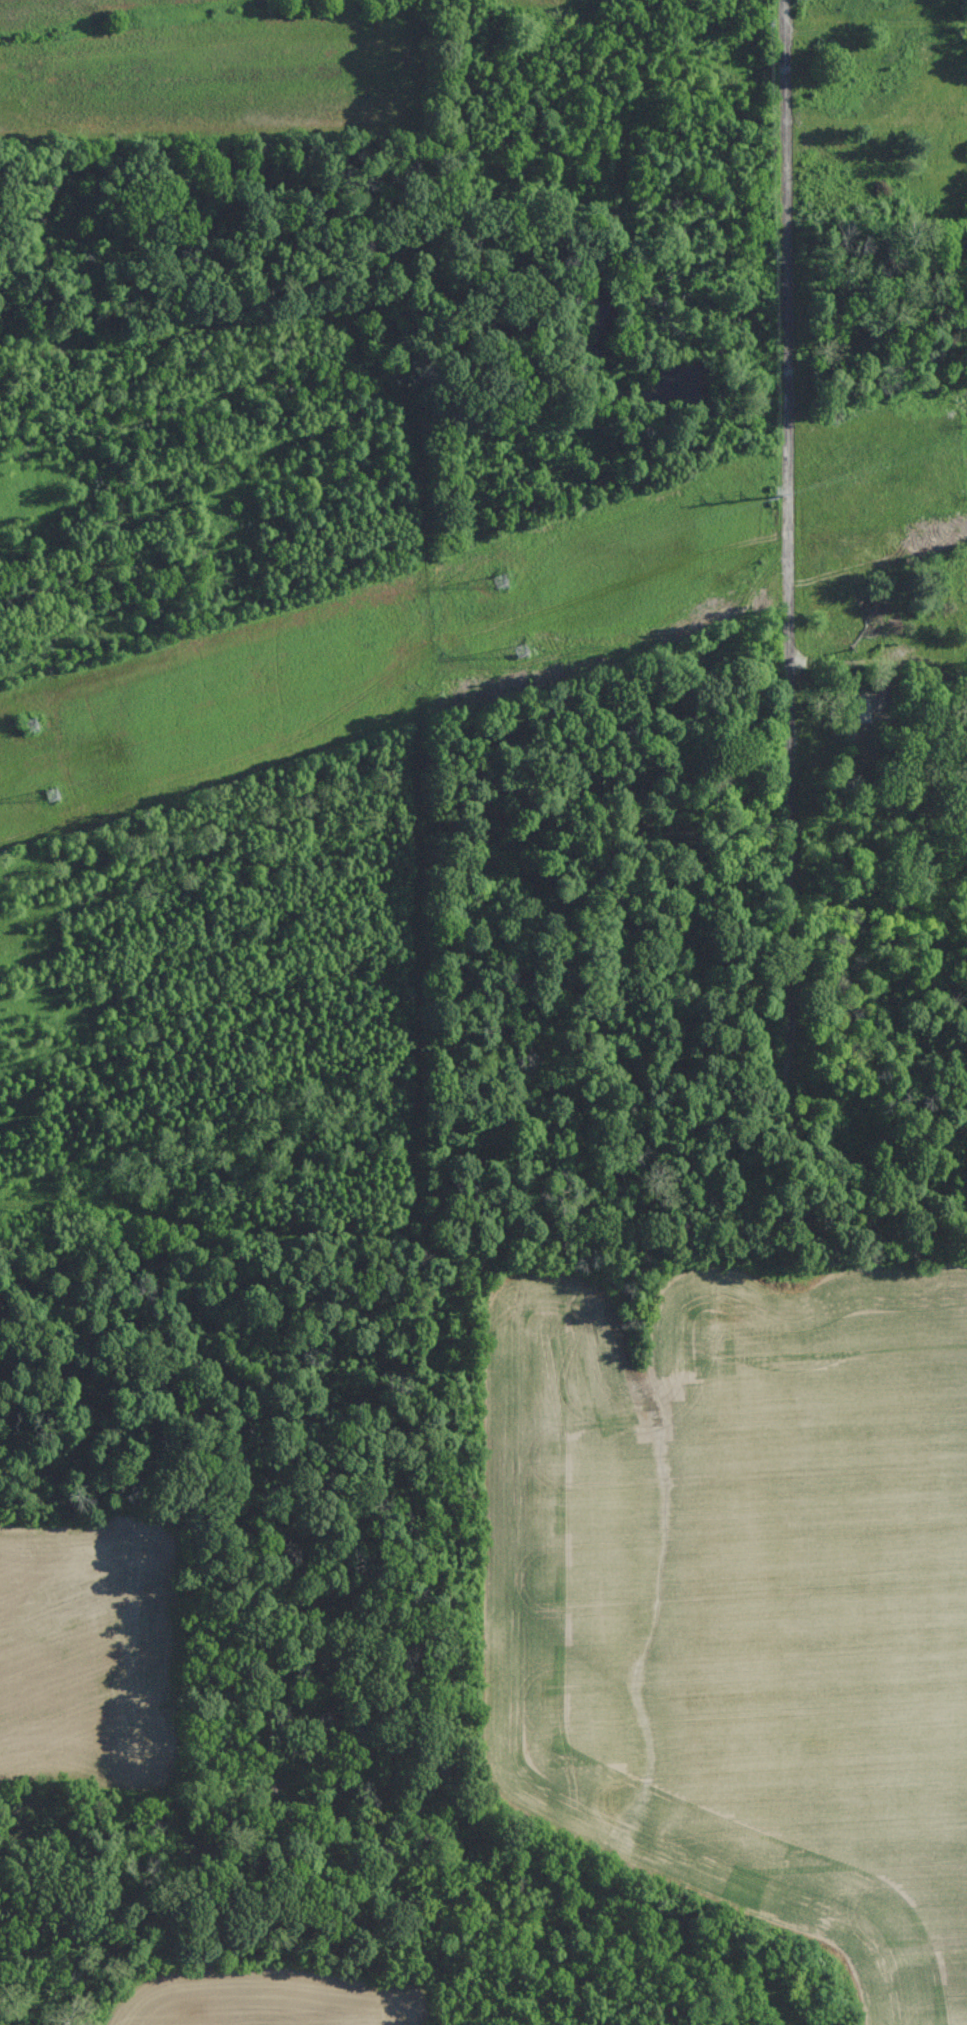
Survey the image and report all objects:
power tower: (771, 494)
road: (789, 532)
power tower: (498, 579)
power tower: (522, 649)
road: (852, 658)
power tower: (32, 722)
building: (864, 726)
power tower: (55, 792)
crop: (745, 1595)
crop: (263, 2000)

